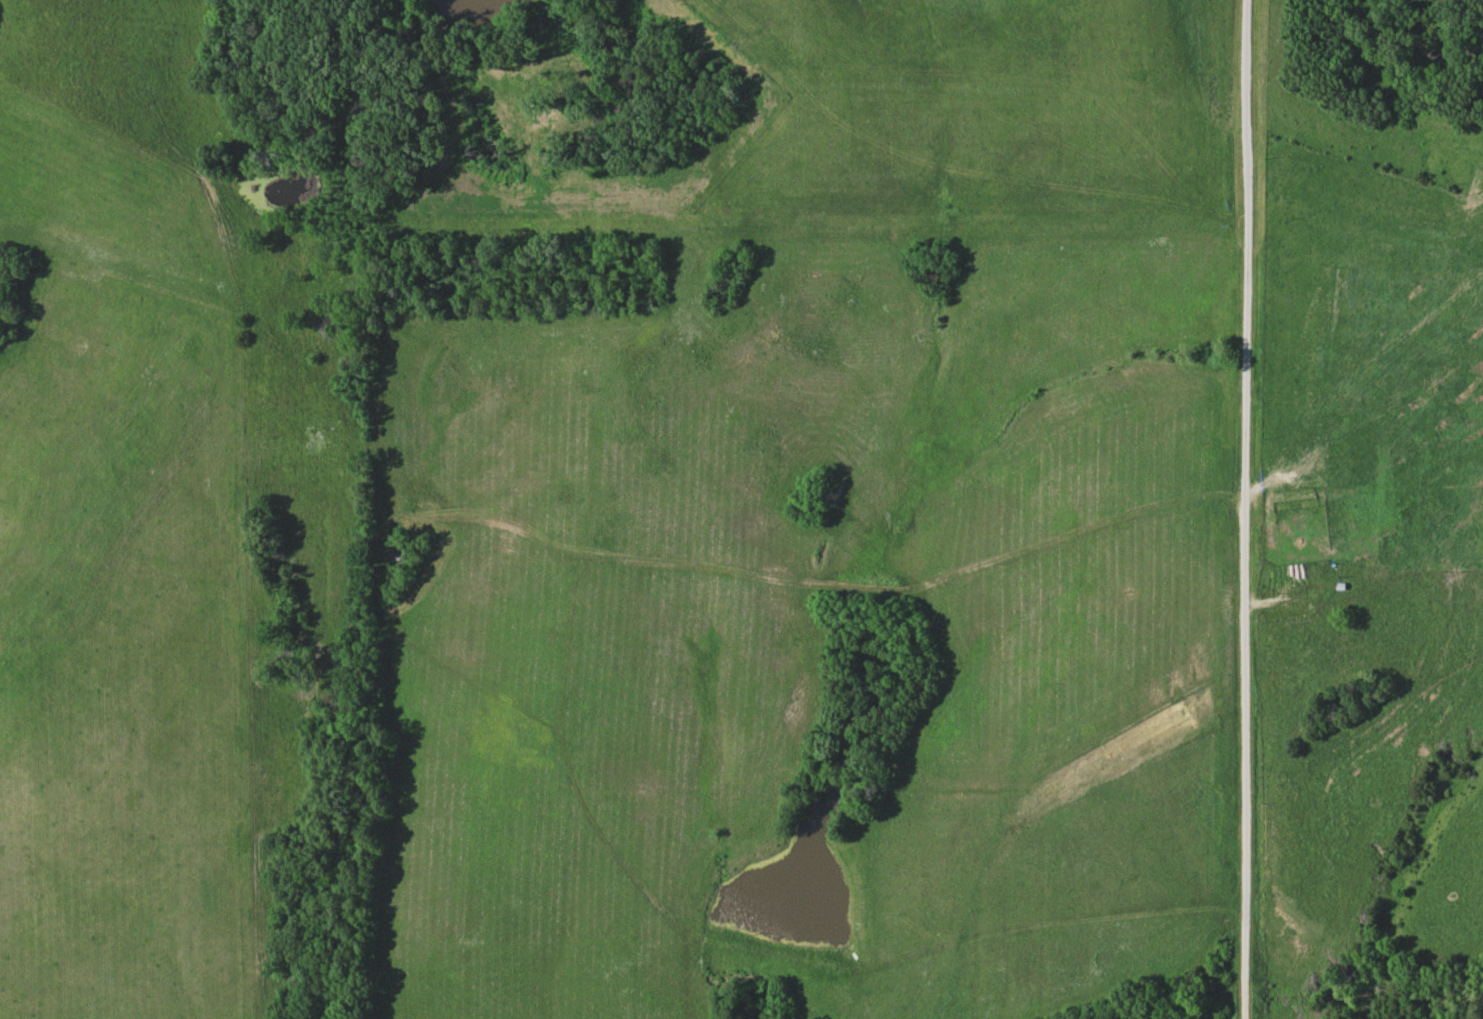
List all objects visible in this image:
road: (1244, 509)

